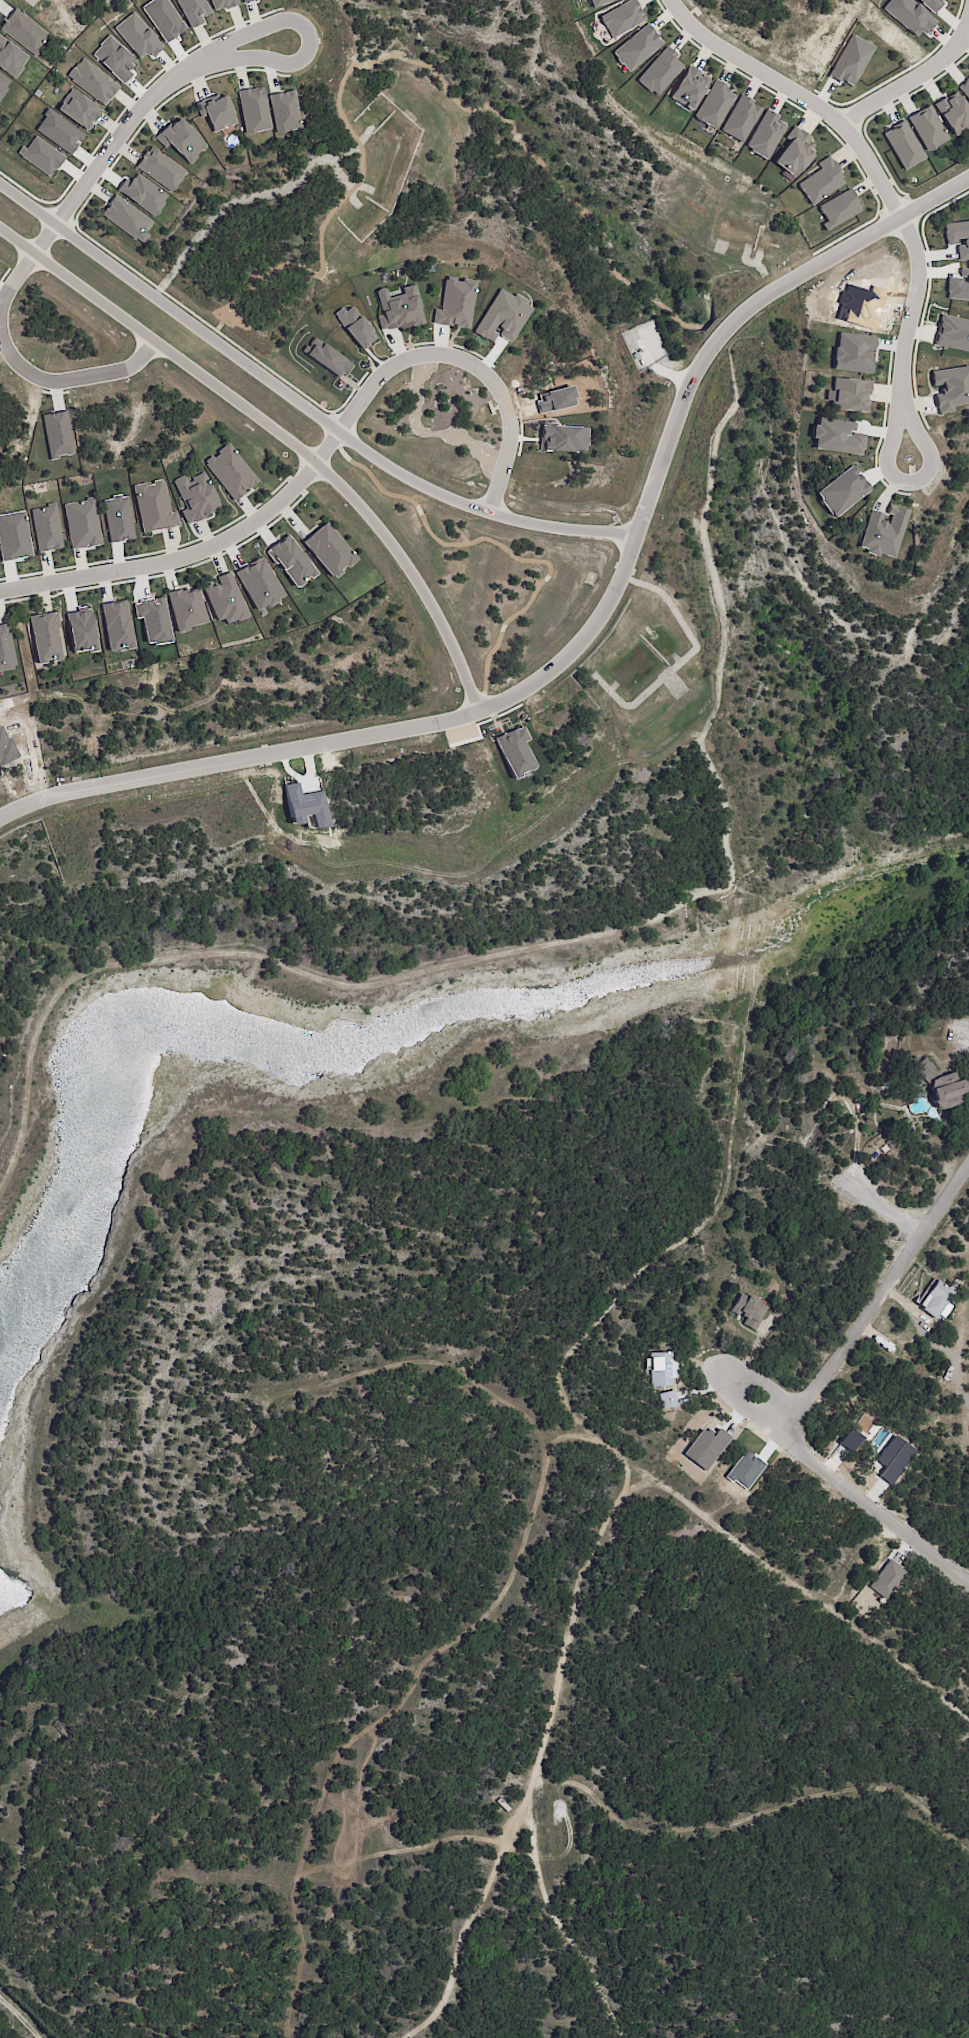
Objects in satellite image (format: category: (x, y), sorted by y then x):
building: (244, 0)
building: (597, 2)
building: (193, 10)
building: (621, 18)
road: (967, 26)
road: (967, 31)
building: (24, 32)
building: (137, 36)
building: (636, 47)
road: (403, 59)
building: (850, 60)
building: (659, 71)
building: (92, 81)
road: (904, 81)
building: (688, 87)
building: (965, 88)
building: (713, 104)
building: (78, 109)
building: (253, 109)
building: (216, 111)
building: (284, 111)
building: (953, 112)
building: (740, 118)
building: (927, 128)
road: (122, 133)
building: (764, 134)
building: (181, 139)
building: (903, 144)
building: (793, 152)
road: (865, 153)
building: (160, 168)
building: (820, 180)
building: (142, 193)
building: (838, 208)
building: (127, 218)
building: (957, 237)
building: (959, 286)
building: (454, 303)
building: (398, 309)
building: (502, 316)
building: (953, 333)
road: (717, 339)
building: (852, 352)
road: (470, 359)
road: (135, 362)
building: (951, 387)
building: (849, 394)
road: (298, 402)
road: (280, 430)
building: (836, 436)
building: (230, 471)
road: (910, 483)
building: (195, 497)
building: (153, 506)
building: (82, 523)
building: (46, 527)
building: (882, 532)
building: (328, 550)
road: (190, 552)
building: (224, 599)
building: (186, 608)
building: (116, 625)
road: (587, 634)
building: (45, 637)
building: (5, 649)
building: (306, 811)
road: (569, 943)
building: (942, 1086)
building: (861, 1099)
building: (899, 1138)
road: (890, 1208)
road: (879, 1297)
building: (936, 1300)
building: (749, 1312)
building: (661, 1369)
road: (729, 1381)
building: (667, 1399)
road: (876, 1500)
building: (887, 1579)

